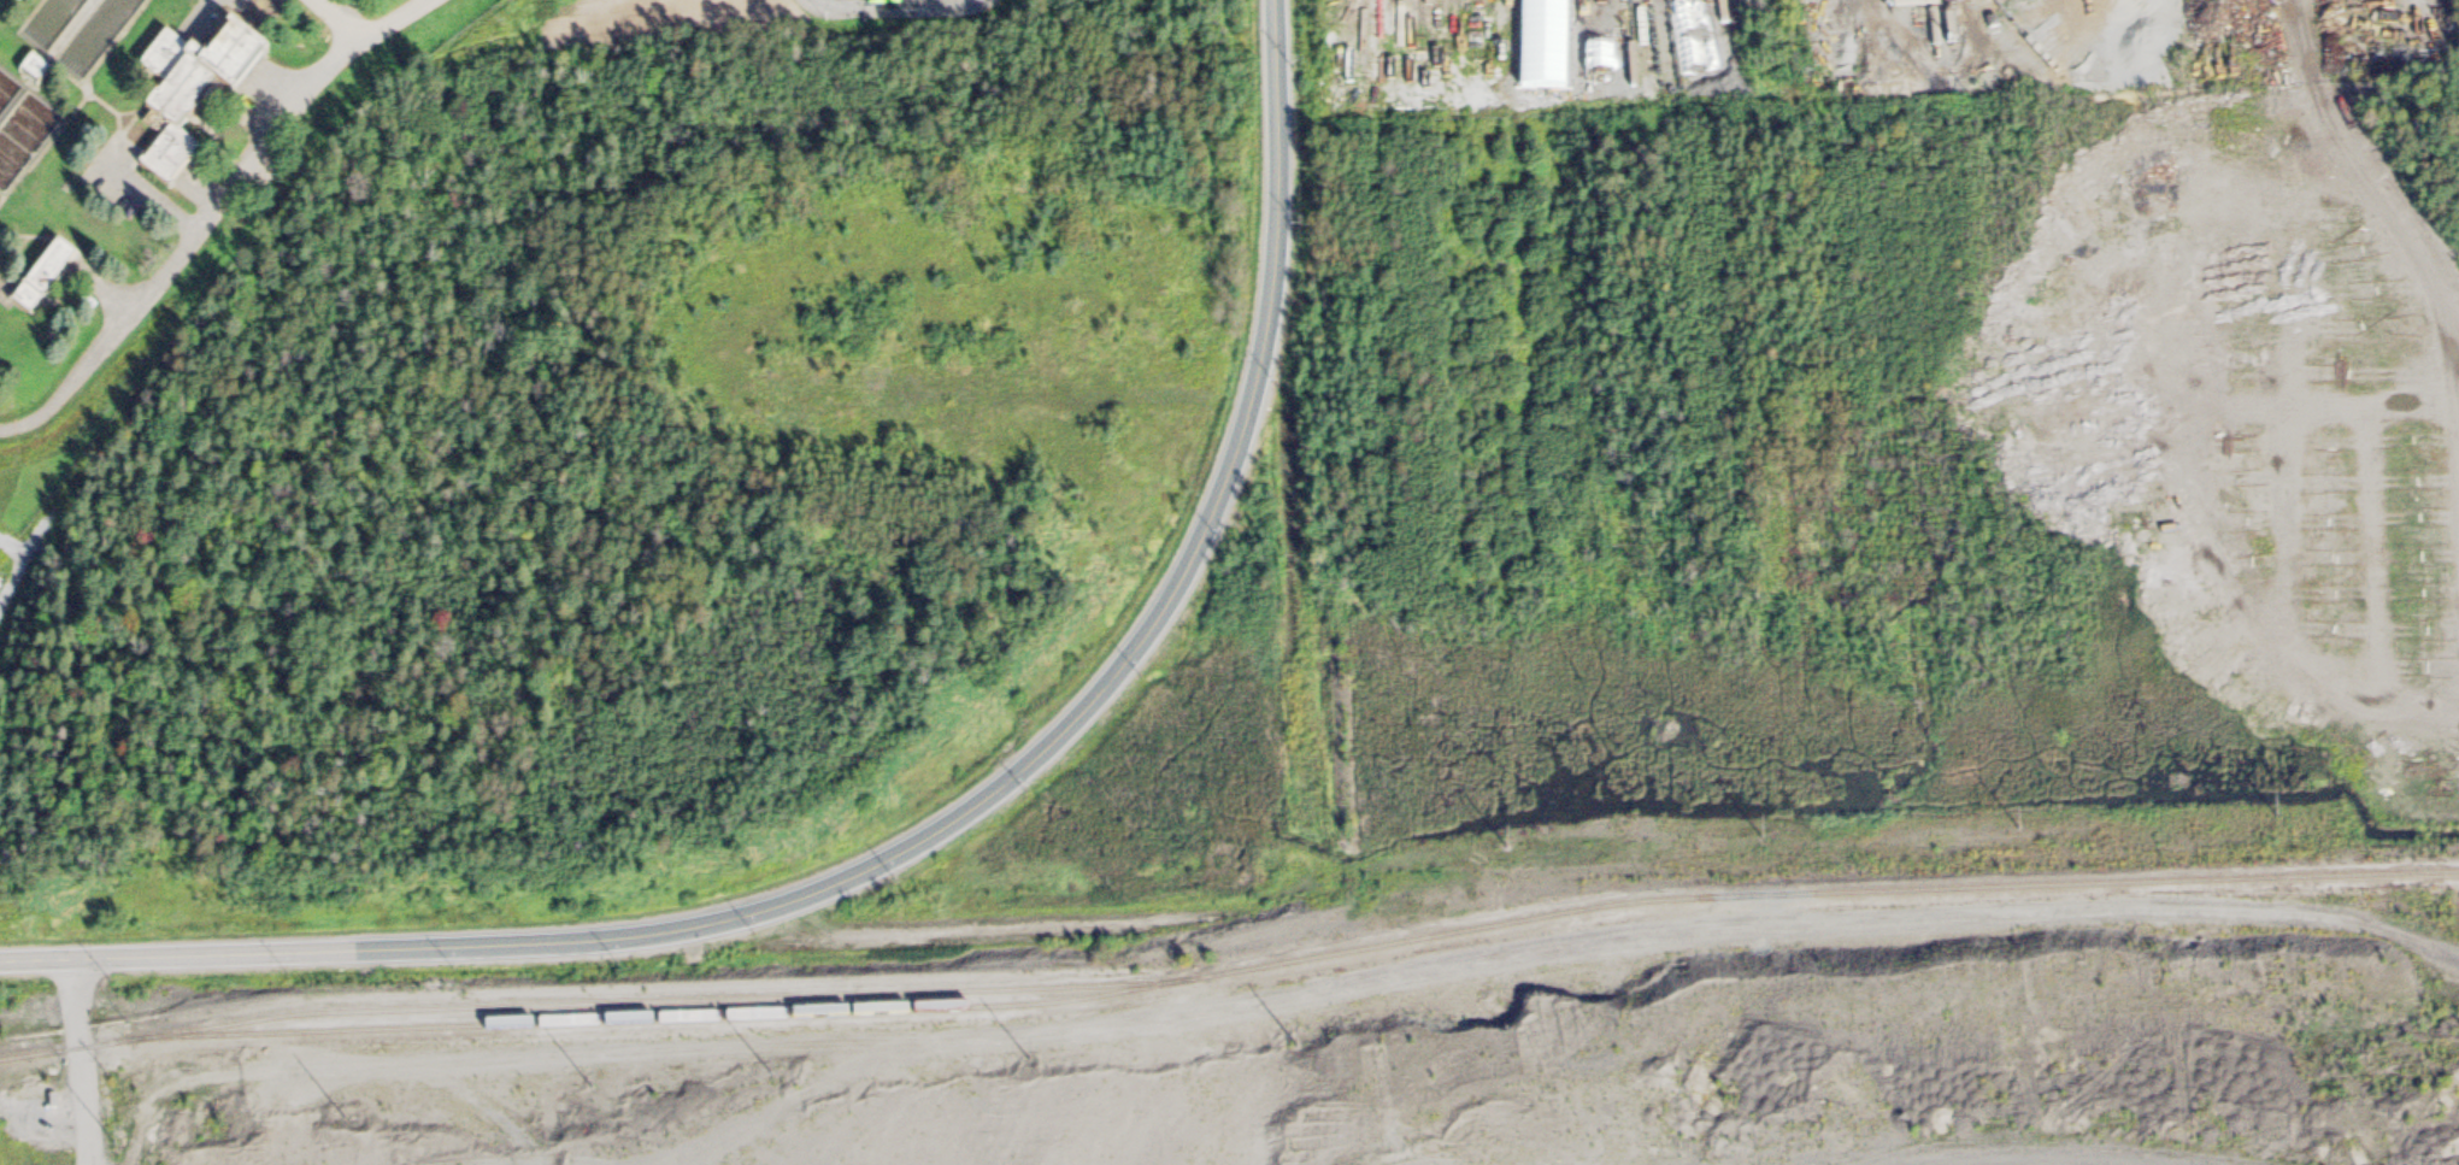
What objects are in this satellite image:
wastewater plant: (834, 7)
wastewater plant: (151, 159)

